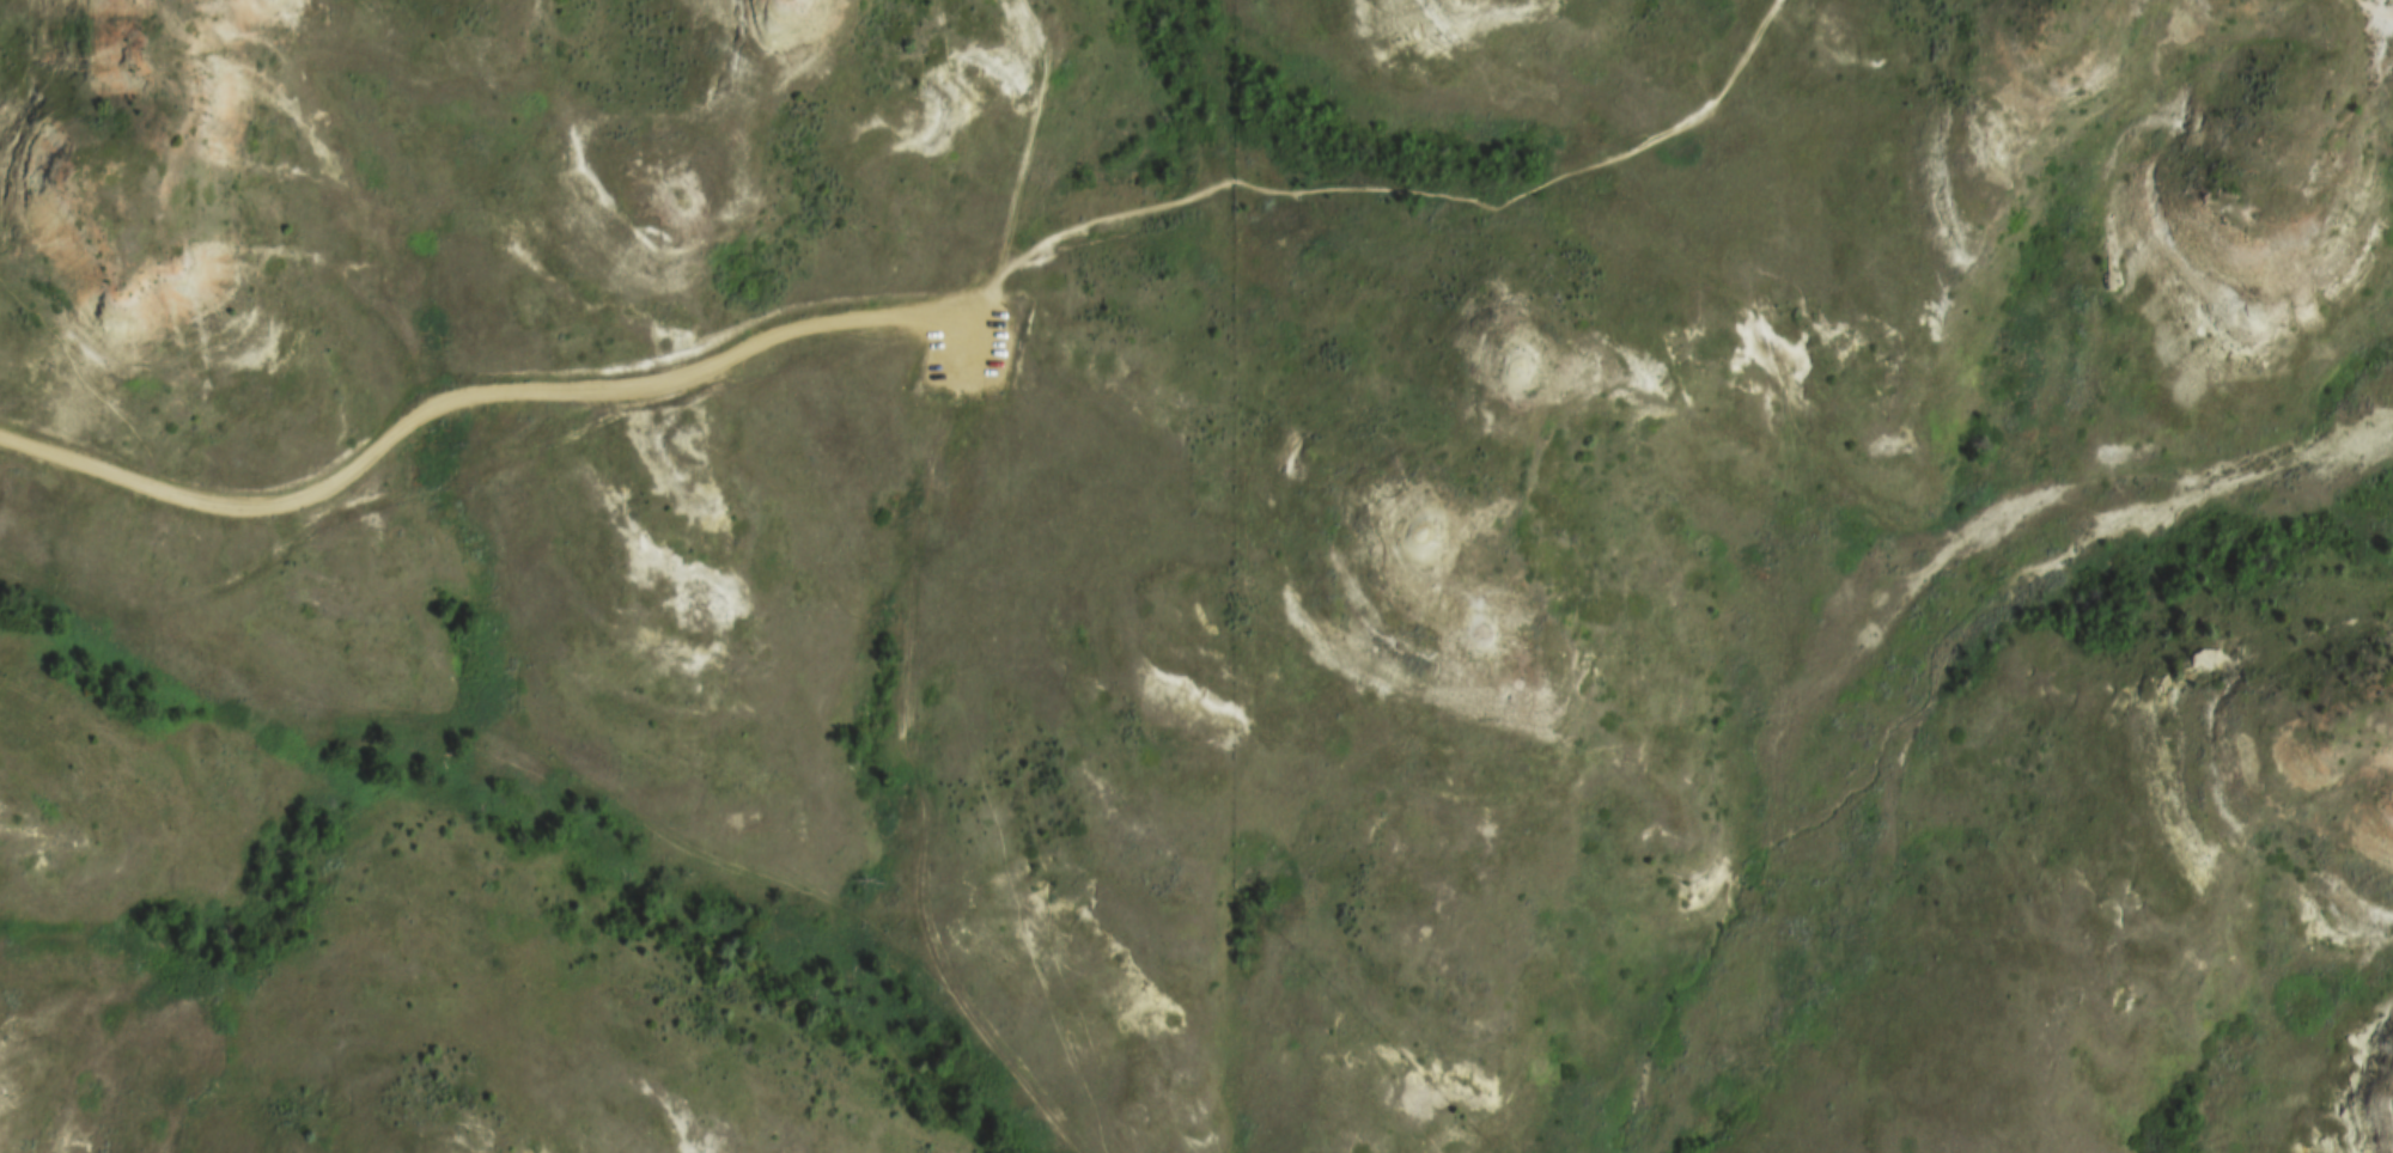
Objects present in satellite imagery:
road: (2377, 8)
road: (1022, 157)
road: (1415, 187)
parking lot: (967, 338)
road: (512, 389)
road: (924, 788)

